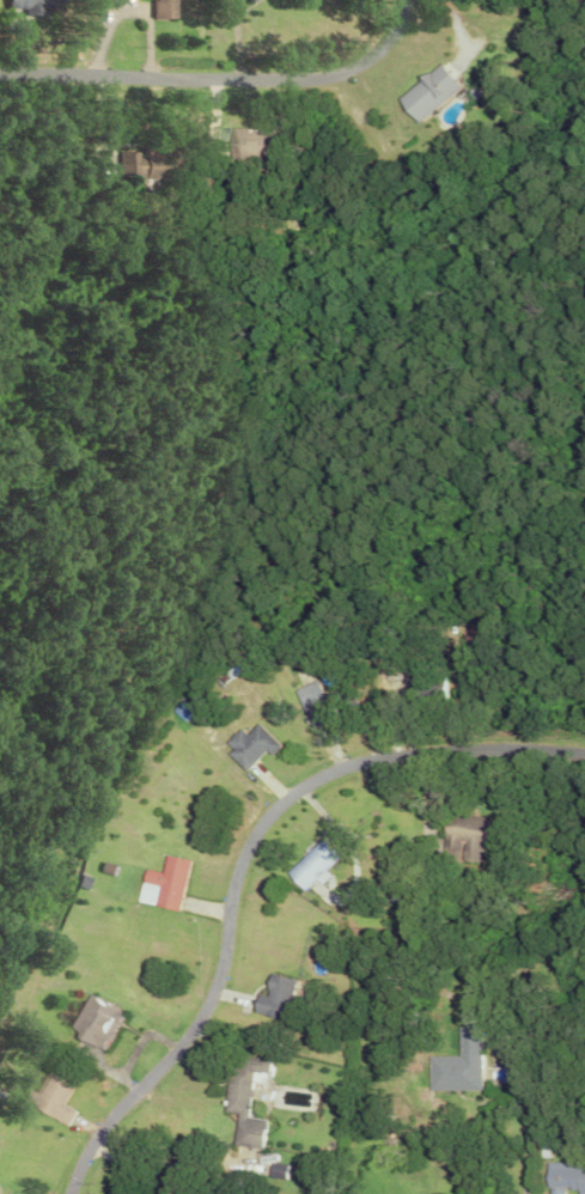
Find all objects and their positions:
building: (256, 0)
building: (43, 6)
building: (172, 8)
building: (542, 36)
road: (43, 73)
road: (264, 75)
building: (437, 92)
building: (251, 141)
building: (158, 163)
building: (306, 693)
building: (248, 744)
building: (465, 833)
building: (309, 865)
road: (246, 869)
building: (165, 882)
building: (269, 995)
building: (99, 1021)
building: (457, 1065)
building: (55, 1094)
road: (528, 1141)
road: (167, 1166)
building: (565, 1177)

